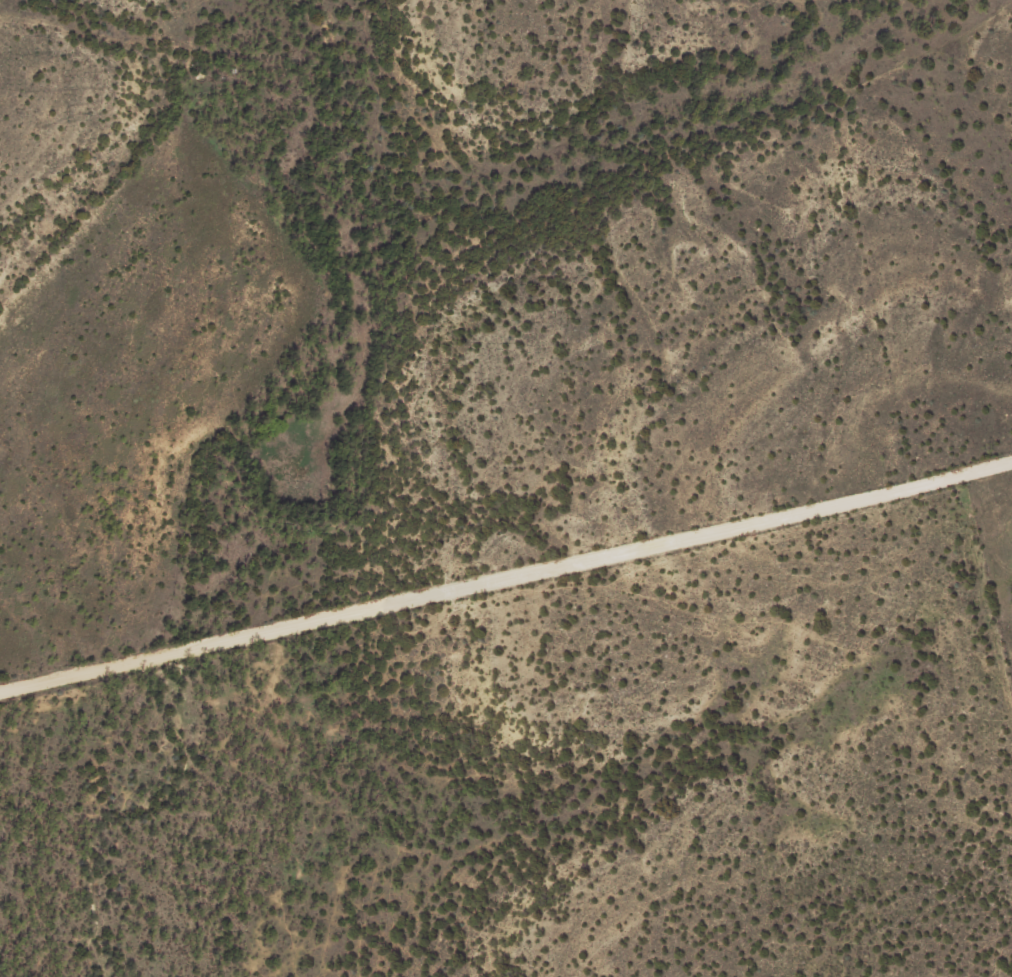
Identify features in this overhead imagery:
road: (506, 578)

